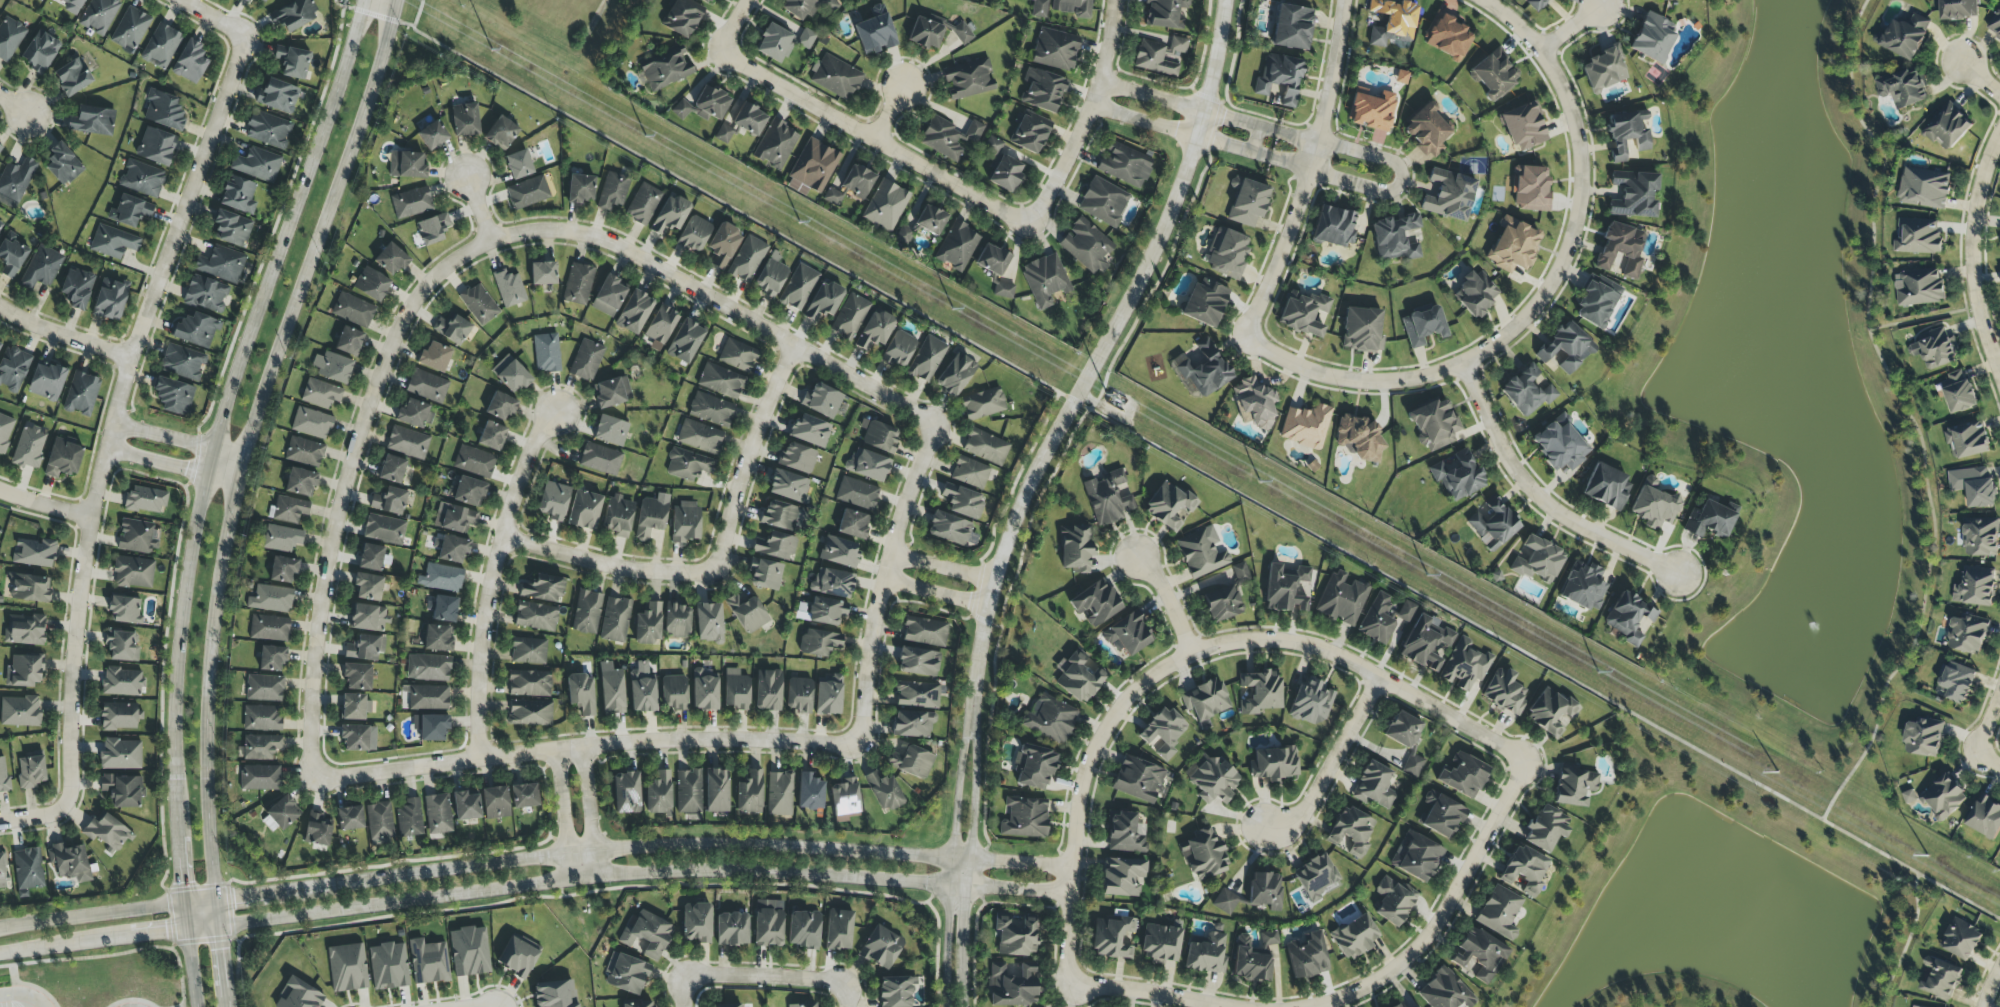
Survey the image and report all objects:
building: (41, 0)
building: (246, 1)
building: (263, 1)
building: (707, 1)
building: (1535, 4)
building: (72, 6)
building: (796, 7)
building: (1039, 8)
building: (1073, 8)
building: (1958, 10)
building: (1164, 13)
building: (293, 14)
building: (99, 15)
road: (218, 17)
building: (681, 17)
building: (1392, 22)
building: (1995, 25)
building: (1292, 27)
road: (1572, 27)
building: (131, 28)
road: (728, 28)
building: (875, 32)
building: (925, 33)
building: (962, 33)
building: (1446, 36)
building: (1653, 37)
building: (1904, 37)
building: (9, 38)
building: (805, 39)
building: (774, 43)
building: (161, 47)
building: (1055, 49)
building: (39, 51)
building: (1160, 56)
building: (190, 62)
building: (292, 62)
power tower: (518, 64)
building: (665, 68)
building: (1603, 70)
building: (1493, 74)
road: (1978, 76)
building: (72, 77)
building: (835, 77)
building: (1401, 77)
building: (1280, 78)
building: (968, 79)
road: (1329, 84)
building: (1902, 89)
building: (1042, 90)
building: (278, 96)
road: (11, 105)
building: (704, 105)
road: (1178, 105)
road: (881, 110)
building: (163, 111)
building: (1372, 111)
building: (749, 119)
building: (464, 120)
building: (92, 121)
road: (1083, 124)
building: (1523, 127)
road: (1171, 128)
building: (1948, 128)
building: (1426, 129)
building: (267, 130)
building: (974, 131)
building: (500, 133)
building: (1030, 133)
building: (1628, 133)
building: (723, 134)
building: (432, 135)
road: (862, 138)
building: (944, 139)
road: (1255, 139)
building: (776, 145)
building: (156, 146)
building: (0, 147)
building: (518, 164)
building: (62, 165)
building: (257, 165)
building: (407, 165)
building: (1124, 166)
building: (812, 168)
building: (142, 178)
building: (15, 179)
road: (1401, 180)
building: (851, 185)
road: (1581, 185)
building: (580, 188)
building: (1529, 188)
building: (1924, 189)
building: (613, 190)
building: (528, 192)
building: (1633, 194)
building: (238, 195)
building: (1448, 195)
building: (1103, 202)
building: (1247, 202)
building: (411, 203)
building: (643, 204)
building: (885, 205)
road: (476, 208)
building: (130, 211)
building: (669, 215)
building: (930, 220)
building: (1, 225)
road: (287, 225)
building: (1334, 226)
building: (231, 228)
building: (432, 228)
power tower: (815, 230)
building: (693, 234)
building: (902, 234)
building: (1395, 237)
building: (1917, 237)
building: (113, 242)
building: (722, 245)
building: (957, 246)
building: (1085, 246)
building: (1512, 246)
building: (1621, 248)
road: (1277, 252)
building: (1226, 253)
building: (11, 255)
building: (390, 259)
building: (747, 259)
building: (992, 259)
road: (647, 261)
building: (221, 264)
building: (1617, 264)
building: (41, 268)
road: (1975, 268)
building: (543, 273)
building: (770, 276)
building: (1046, 280)
building: (371, 284)
building: (578, 284)
building: (798, 287)
building: (76, 288)
building: (509, 288)
building: (1919, 288)
building: (1004, 290)
building: (1475, 293)
building: (206, 294)
building: (608, 296)
building: (110, 299)
building: (824, 301)
building: (1596, 301)
building: (1205, 302)
building: (479, 304)
building: (353, 309)
building: (634, 312)
building: (1303, 313)
building: (849, 317)
building: (1423, 326)
building: (660, 327)
building: (452, 328)
building: (196, 329)
building: (875, 330)
building: (1362, 330)
road: (60, 335)
building: (349, 341)
building: (685, 341)
building: (0, 344)
building: (1567, 348)
building: (898, 349)
building: (1934, 349)
building: (546, 353)
building: (737, 356)
building: (434, 357)
building: (926, 359)
road: (1101, 359)
building: (586, 360)
building: (182, 362)
building: (333, 367)
building: (13, 369)
building: (1205, 370)
building: (511, 374)
building: (955, 375)
road: (1353, 380)
building: (46, 381)
building: (720, 381)
building: (427, 386)
building: (1526, 392)
building: (608, 393)
building: (1958, 393)
building: (81, 394)
building: (320, 394)
power tower: (1109, 395)
building: (173, 396)
building: (822, 400)
building: (983, 404)
building: (1254, 404)
building: (500, 407)
building: (710, 409)
road: (1906, 411)
road: (110, 412)
building: (415, 413)
building: (311, 423)
building: (1434, 425)
building: (1305, 426)
building: (5, 431)
building: (610, 431)
building: (810, 431)
road: (159, 436)
building: (491, 436)
building: (699, 437)
building: (880, 437)
building: (1359, 438)
building: (1967, 440)
building: (408, 442)
building: (30, 446)
building: (1559, 446)
building: (985, 447)
road: (1169, 450)
building: (304, 451)
road: (745, 457)
building: (63, 458)
road: (225, 458)
building: (797, 458)
building: (600, 459)
road: (206, 461)
building: (474, 461)
road: (152, 462)
building: (687, 465)
building: (867, 465)
building: (391, 469)
road: (221, 470)
building: (970, 472)
building: (1458, 476)
building: (300, 482)
road: (346, 486)
building: (789, 486)
building: (1607, 487)
building: (1974, 487)
road: (235, 492)
building: (469, 492)
building: (857, 493)
road: (1544, 499)
building: (145, 500)
building: (389, 501)
building: (553, 501)
building: (962, 501)
road: (910, 504)
building: (1653, 504)
road: (43, 505)
building: (1169, 506)
building: (289, 509)
building: (584, 510)
building: (779, 515)
building: (617, 516)
building: (454, 518)
building: (650, 518)
building: (1709, 521)
building: (685, 522)
building: (853, 524)
building: (1493, 524)
building: (384, 529)
building: (949, 529)
building: (138, 537)
building: (281, 538)
building: (1981, 538)
building: (775, 546)
building: (1075, 548)
building: (453, 549)
building: (839, 552)
building: (1201, 552)
building: (33, 553)
building: (373, 558)
building: (1538, 560)
road: (608, 564)
road: (946, 564)
power tower: (1408, 565)
building: (283, 569)
building: (133, 572)
building: (1240, 573)
building: (764, 574)
building: (441, 578)
road: (495, 578)
building: (832, 582)
building: (1583, 586)
building: (368, 587)
building: (30, 588)
building: (1976, 588)
building: (542, 589)
building: (1287, 589)
road: (936, 590)
building: (271, 599)
building: (1341, 599)
building: (1095, 603)
road: (1171, 603)
building: (1222, 604)
building: (124, 609)
building: (442, 609)
building: (826, 611)
building: (587, 612)
building: (747, 613)
building: (535, 616)
building: (1384, 617)
building: (1628, 617)
building: (367, 618)
building: (615, 620)
building: (677, 621)
fountain: (1816, 622)
building: (709, 623)
building: (648, 624)
building: (1640, 626)
building: (269, 628)
building: (25, 629)
building: (925, 630)
building: (1128, 635)
building: (1968, 635)
building: (438, 638)
road: (1242, 640)
building: (819, 642)
building: (1425, 643)
building: (120, 646)
building: (365, 648)
building: (528, 651)
road: (177, 654)
building: (271, 658)
building: (918, 662)
building: (1465, 665)
building: (428, 668)
building: (24, 671)
building: (357, 676)
building: (1079, 676)
building: (122, 681)
building: (529, 683)
building: (1955, 683)
building: (264, 688)
building: (611, 689)
building: (642, 689)
building: (736, 690)
building: (768, 690)
building: (1260, 692)
building: (1504, 692)
building: (581, 693)
building: (673, 693)
building: (917, 694)
building: (798, 695)
building: (828, 695)
building: (428, 698)
building: (1205, 701)
building: (1310, 702)
building: (354, 706)
building: (19, 711)
building: (1551, 712)
building: (529, 713)
building: (120, 716)
building: (262, 718)
building: (1050, 718)
building: (913, 724)
road: (1987, 726)
building: (431, 727)
power tower: (1703, 730)
building: (1163, 732)
building: (356, 737)
building: (1924, 738)
building: (1406, 739)
road: (588, 746)
building: (259, 747)
building: (120, 755)
road: (1987, 761)
building: (911, 762)
building: (1274, 764)
road: (1331, 765)
building: (1035, 767)
building: (30, 771)
building: (3, 775)
building: (1463, 775)
building: (260, 778)
building: (1138, 779)
building: (1213, 779)
building: (1374, 786)
building: (1574, 786)
building: (122, 790)
building: (716, 790)
building: (883, 791)
building: (688, 792)
building: (809, 792)
building: (626, 793)
building: (749, 793)
building: (779, 794)
building: (658, 795)
building: (524, 796)
building: (1909, 797)
building: (1943, 798)
building: (844, 800)
building: (495, 802)
building: (465, 806)
building: (283, 812)
road: (589, 812)
building: (437, 814)
road: (565, 814)
building: (1441, 814)
building: (1984, 817)
road: (32, 818)
building: (349, 818)
building: (1024, 818)
building: (408, 819)
building: (380, 824)
building: (1546, 828)
building: (317, 829)
building: (1350, 830)
building: (106, 831)
road: (575, 851)
building: (1203, 854)
building: (1416, 856)
road: (951, 860)
road: (969, 861)
building: (69, 862)
road: (1021, 864)
building: (28, 869)
building: (1524, 869)
road: (181, 870)
building: (2, 873)
road: (575, 876)
building: (1122, 877)
building: (1315, 877)
road: (1019, 889)
building: (1265, 890)
power tower: (1999, 897)
building: (1392, 901)
road: (1445, 910)
building: (1499, 911)
road: (184, 915)
road: (91, 916)
building: (696, 922)
building: (768, 923)
road: (1068, 926)
building: (731, 929)
building: (803, 929)
building: (838, 930)
building: (646, 935)
building: (1015, 936)
building: (1354, 936)
building: (1113, 938)
road: (92, 940)
road: (178, 940)
building: (1268, 940)
building: (1961, 940)
road: (1907, 941)
building: (1161, 944)
building: (881, 947)
building: (470, 951)
building: (1206, 953)
road: (114, 954)
building: (518, 956)
building: (1307, 956)
building: (1478, 956)
building: (429, 962)
building: (1249, 962)
building: (389, 966)
road: (190, 967)
building: (347, 968)
building: (626, 974)
road: (762, 974)
building: (1941, 980)
road: (14, 981)
building: (1012, 985)
road: (1990, 988)
building: (895, 991)
building: (1444, 991)
road: (681, 993)
road: (1153, 993)
building: (555, 994)
building: (298, 995)
road: (846, 995)
road: (29, 1001)
building: (637, 1004)
road: (486, 1005)
road: (501, 1005)
building: (729, 1005)
building: (803, 1005)
building: (1400, 1006)
building: (1416, 1006)
building: (1914, 1006)

